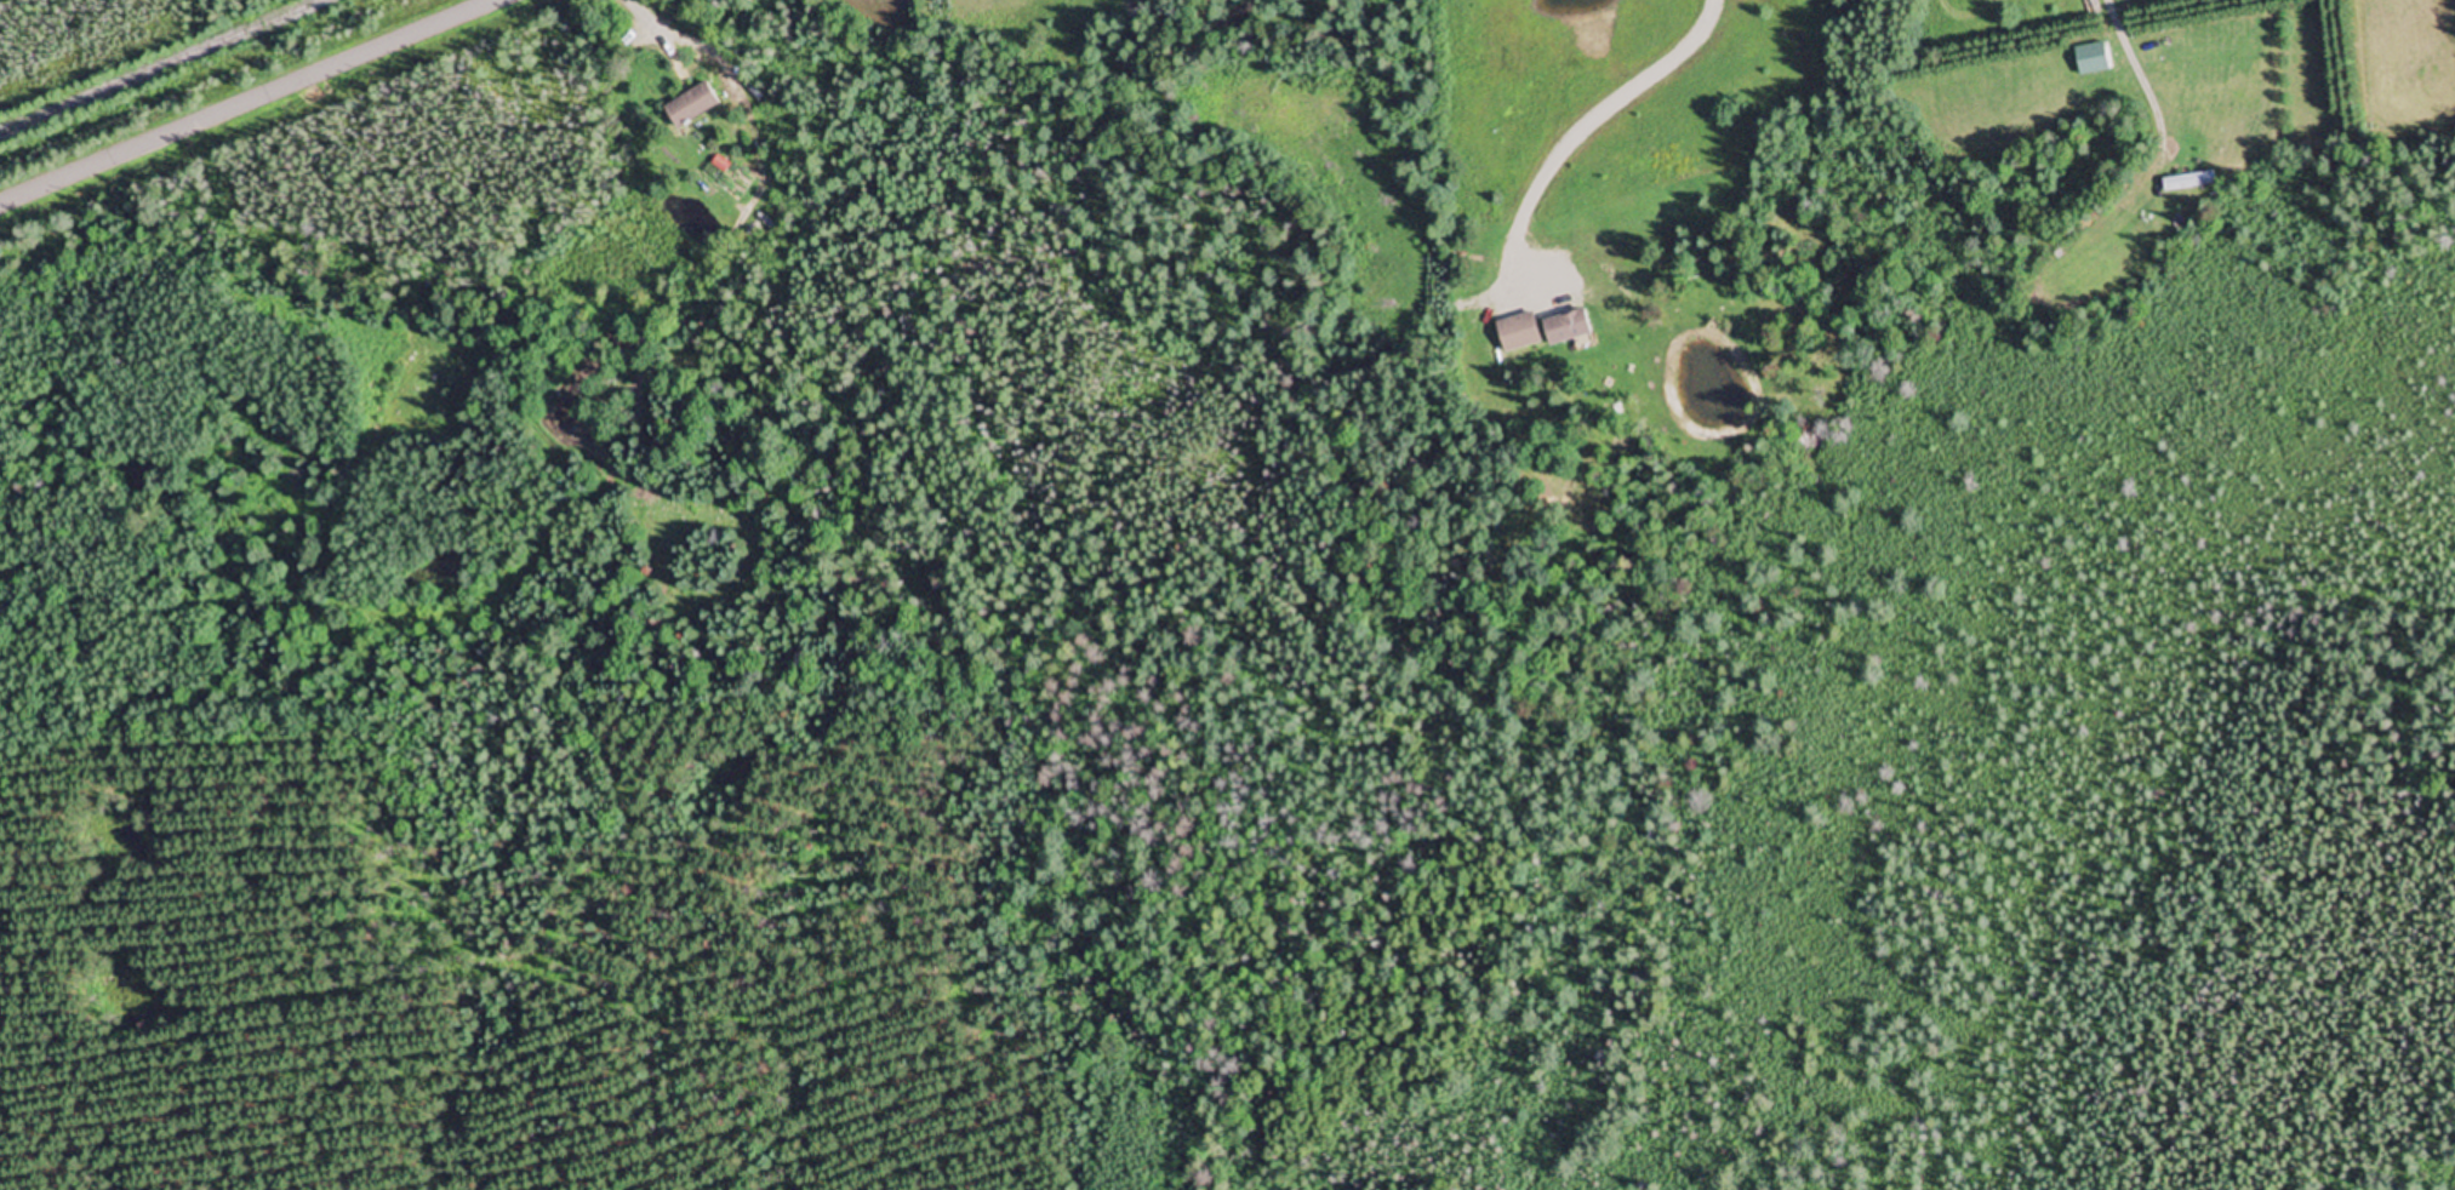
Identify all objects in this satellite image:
railway: (161, 67)
road: (247, 102)
building: (690, 107)
building: (2187, 182)
building: (1565, 330)
building: (1518, 334)

